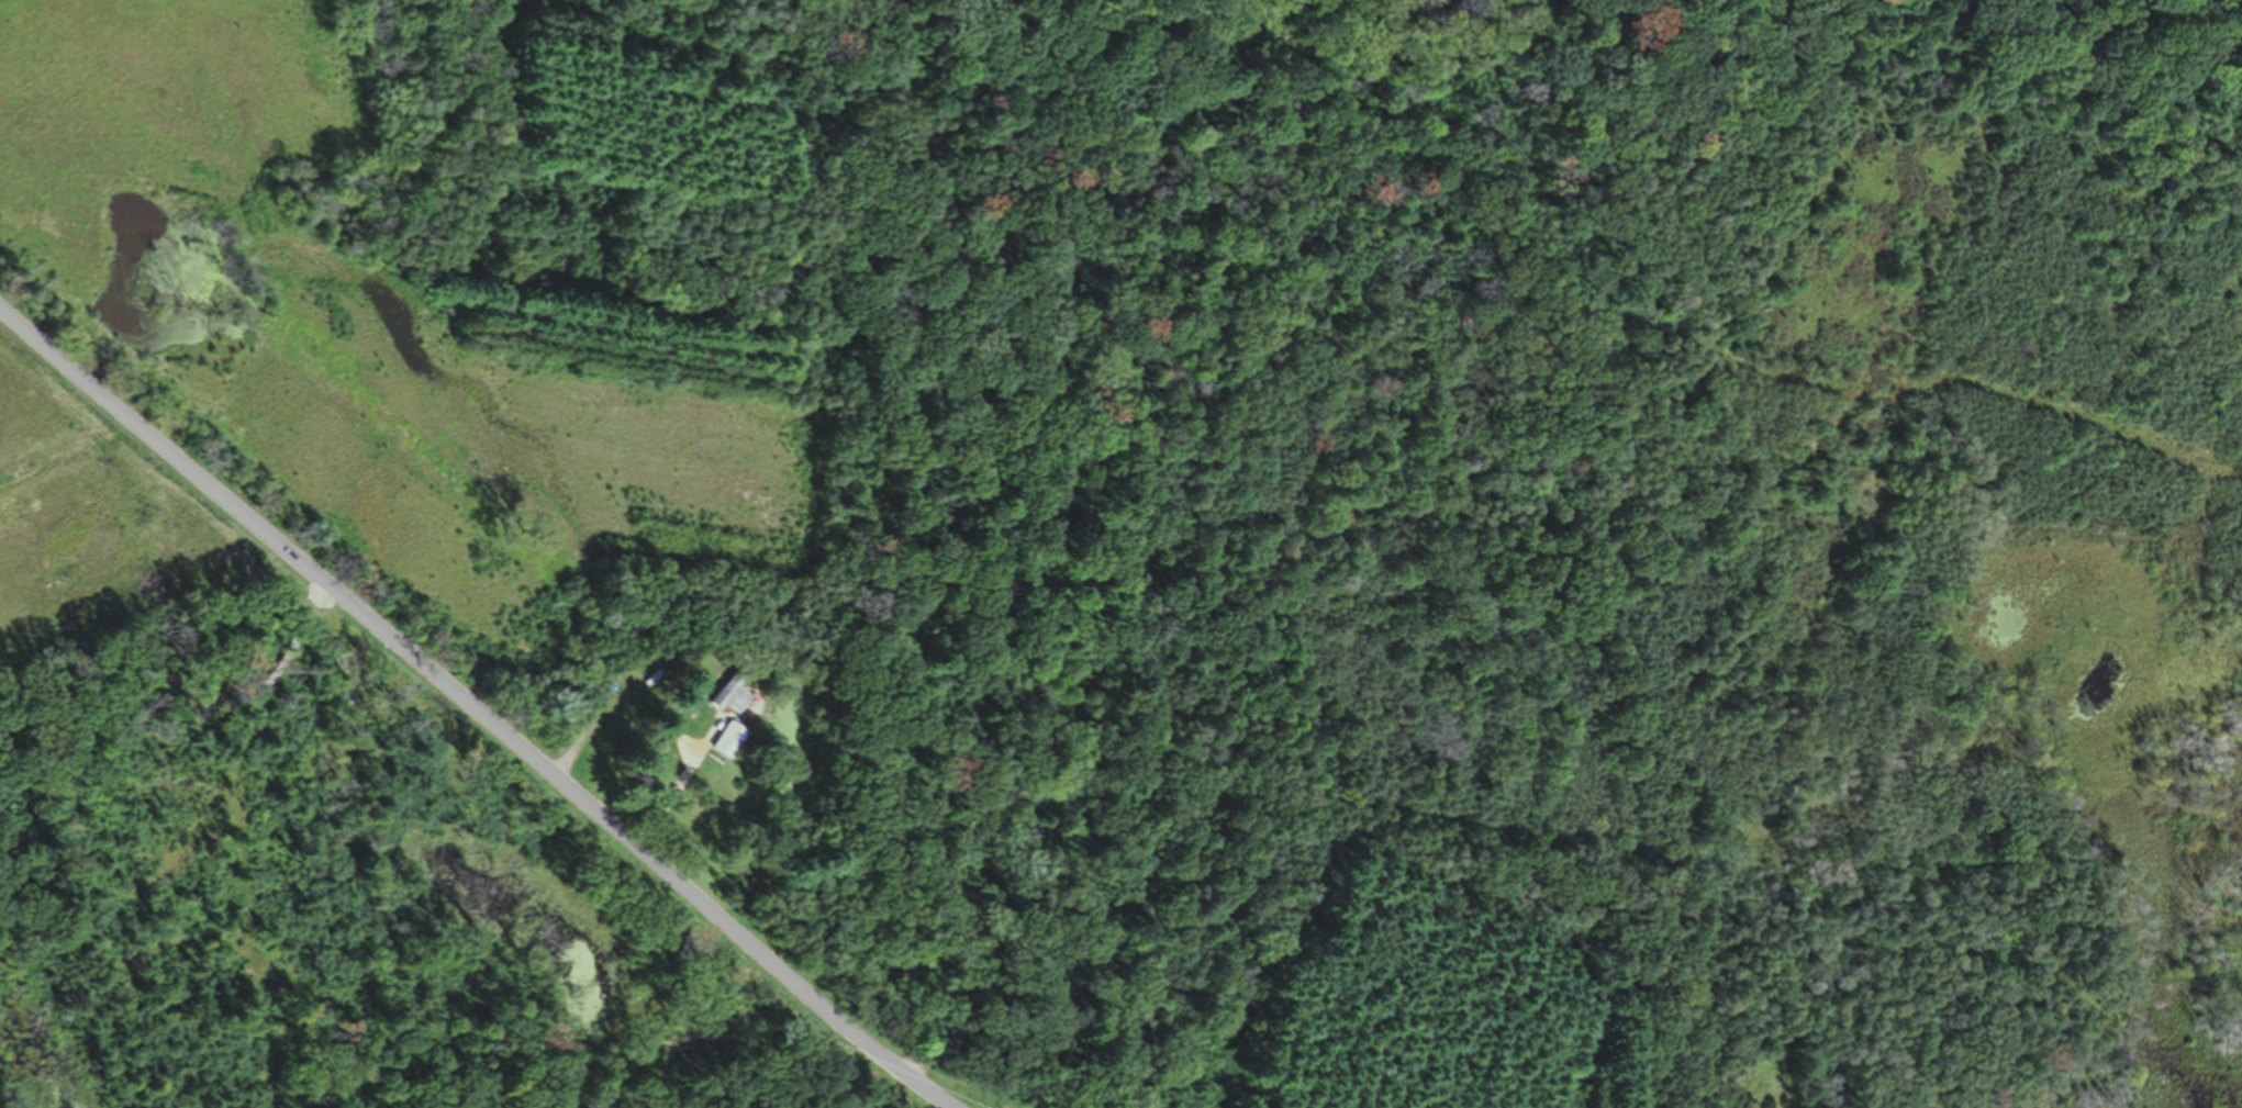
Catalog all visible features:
road: (334, 592)
building: (727, 701)
building: (728, 745)
road: (807, 996)

